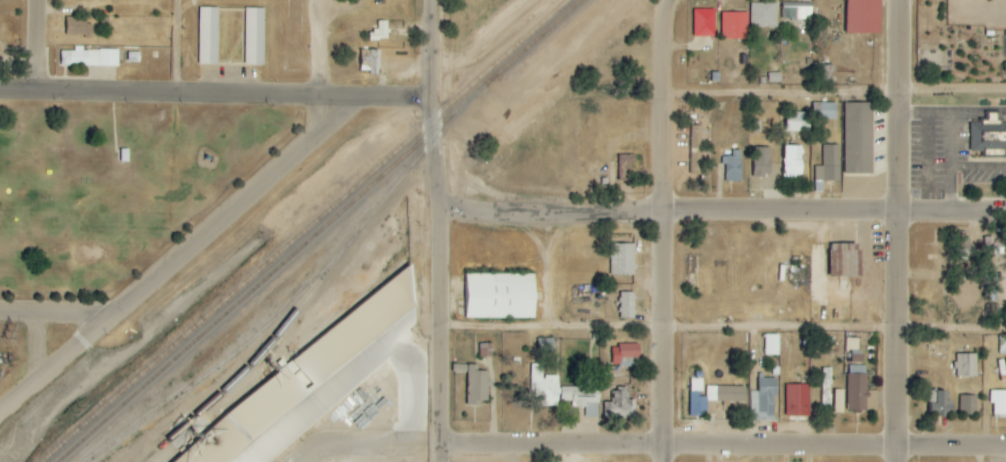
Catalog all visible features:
building: (797, 13)
building: (762, 14)
building: (862, 16)
building: (702, 22)
railway: (552, 23)
building: (732, 25)
building: (78, 26)
building: (377, 33)
building: (208, 36)
building: (254, 37)
road: (34, 44)
road: (493, 45)
road: (175, 46)
road: (318, 48)
building: (89, 58)
building: (369, 61)
building: (821, 74)
road: (215, 94)
road: (833, 95)
building: (824, 111)
building: (797, 122)
building: (989, 137)
building: (858, 138)
building: (696, 150)
building: (759, 161)
building: (794, 162)
building: (826, 166)
building: (626, 167)
building: (730, 169)
road: (247, 194)
road: (722, 216)
railway: (303, 230)
road: (439, 230)
road: (660, 230)
road: (896, 230)
railway: (291, 254)
building: (623, 260)
building: (842, 260)
building: (929, 269)
railway: (319, 278)
building: (500, 296)
building: (627, 306)
road: (53, 314)
road: (722, 330)
power tower: (8, 332)
building: (772, 345)
road: (71, 346)
building: (545, 346)
building: (626, 355)
railway: (224, 360)
building: (966, 365)
building: (826, 378)
building: (858, 379)
building: (305, 385)
building: (477, 386)
building: (543, 388)
building: (726, 394)
building: (583, 396)
building: (798, 401)
building: (839, 401)
building: (998, 402)
building: (941, 404)
building: (697, 405)
building: (968, 405)
building: (618, 406)
power tower: (72, 410)
road: (377, 447)
road: (721, 448)

